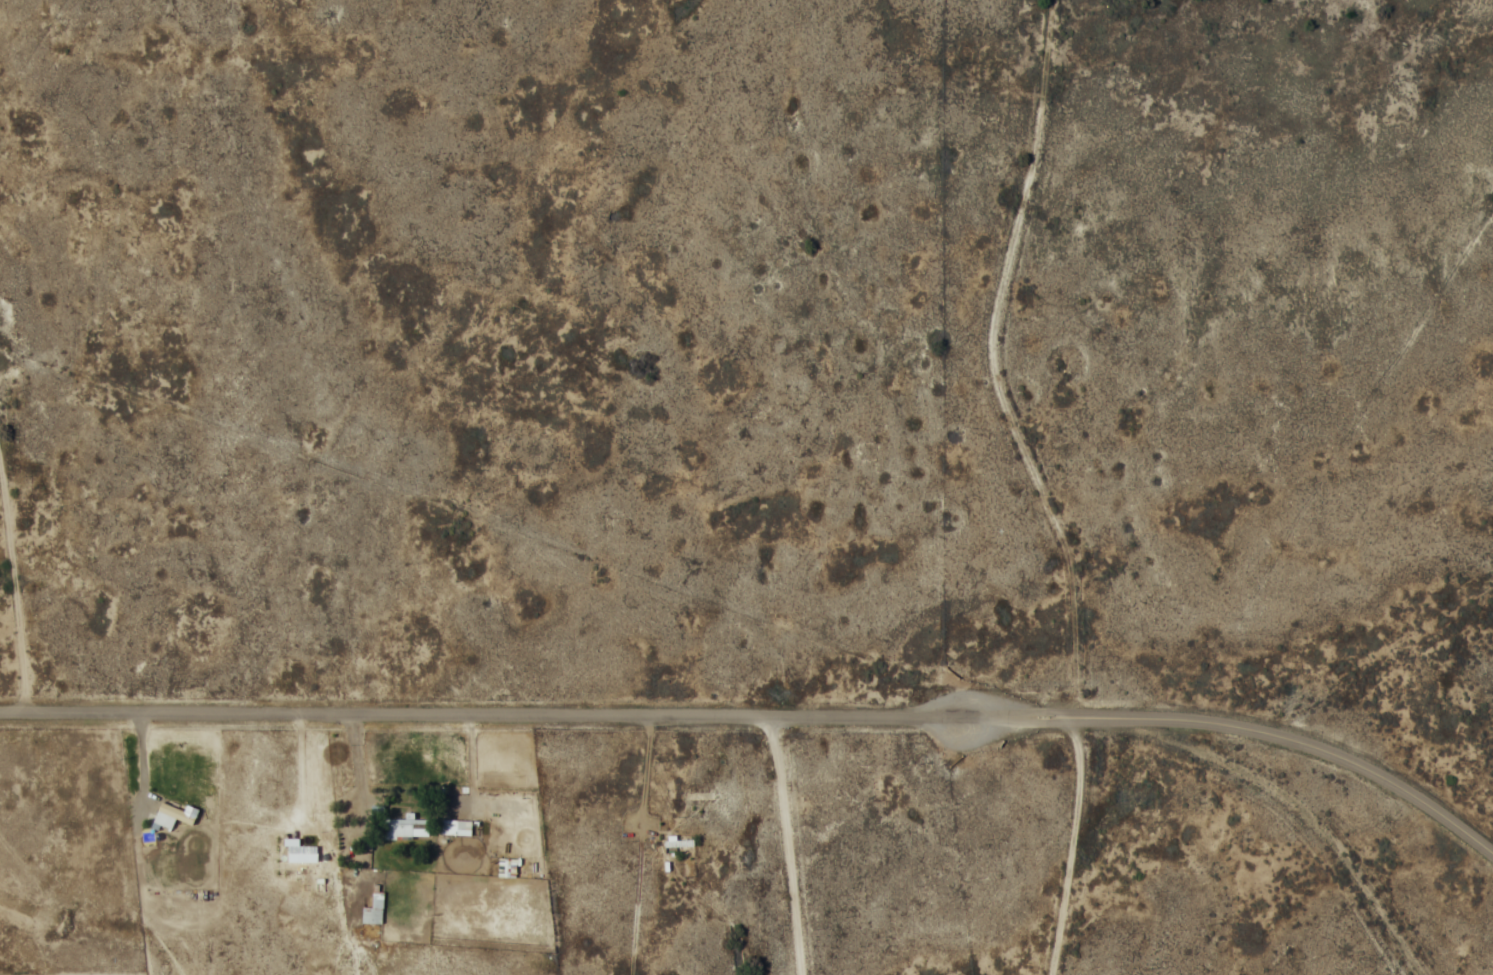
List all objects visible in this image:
road: (662, 713)
building: (699, 794)
road: (1410, 798)
building: (678, 842)
road: (790, 843)
building: (372, 909)

